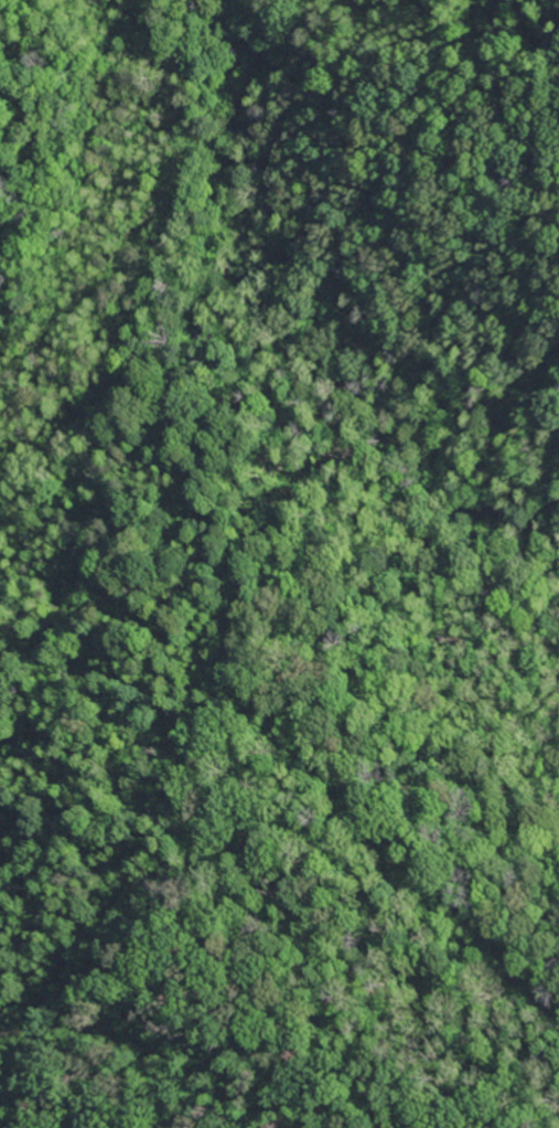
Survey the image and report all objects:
road: (178, 521)

